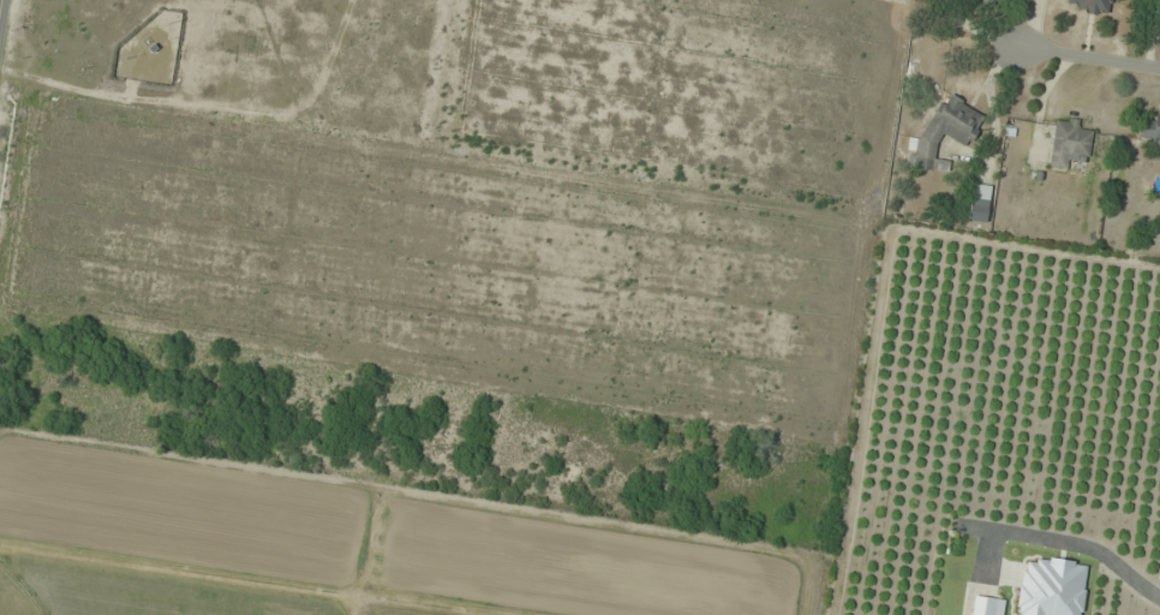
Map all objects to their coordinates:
building: (1089, 5)
road: (1, 14)
road: (1092, 60)
building: (1149, 129)
building: (947, 131)
building: (1069, 143)
building: (1159, 154)
building: (979, 203)
road: (1065, 539)
building: (987, 607)

